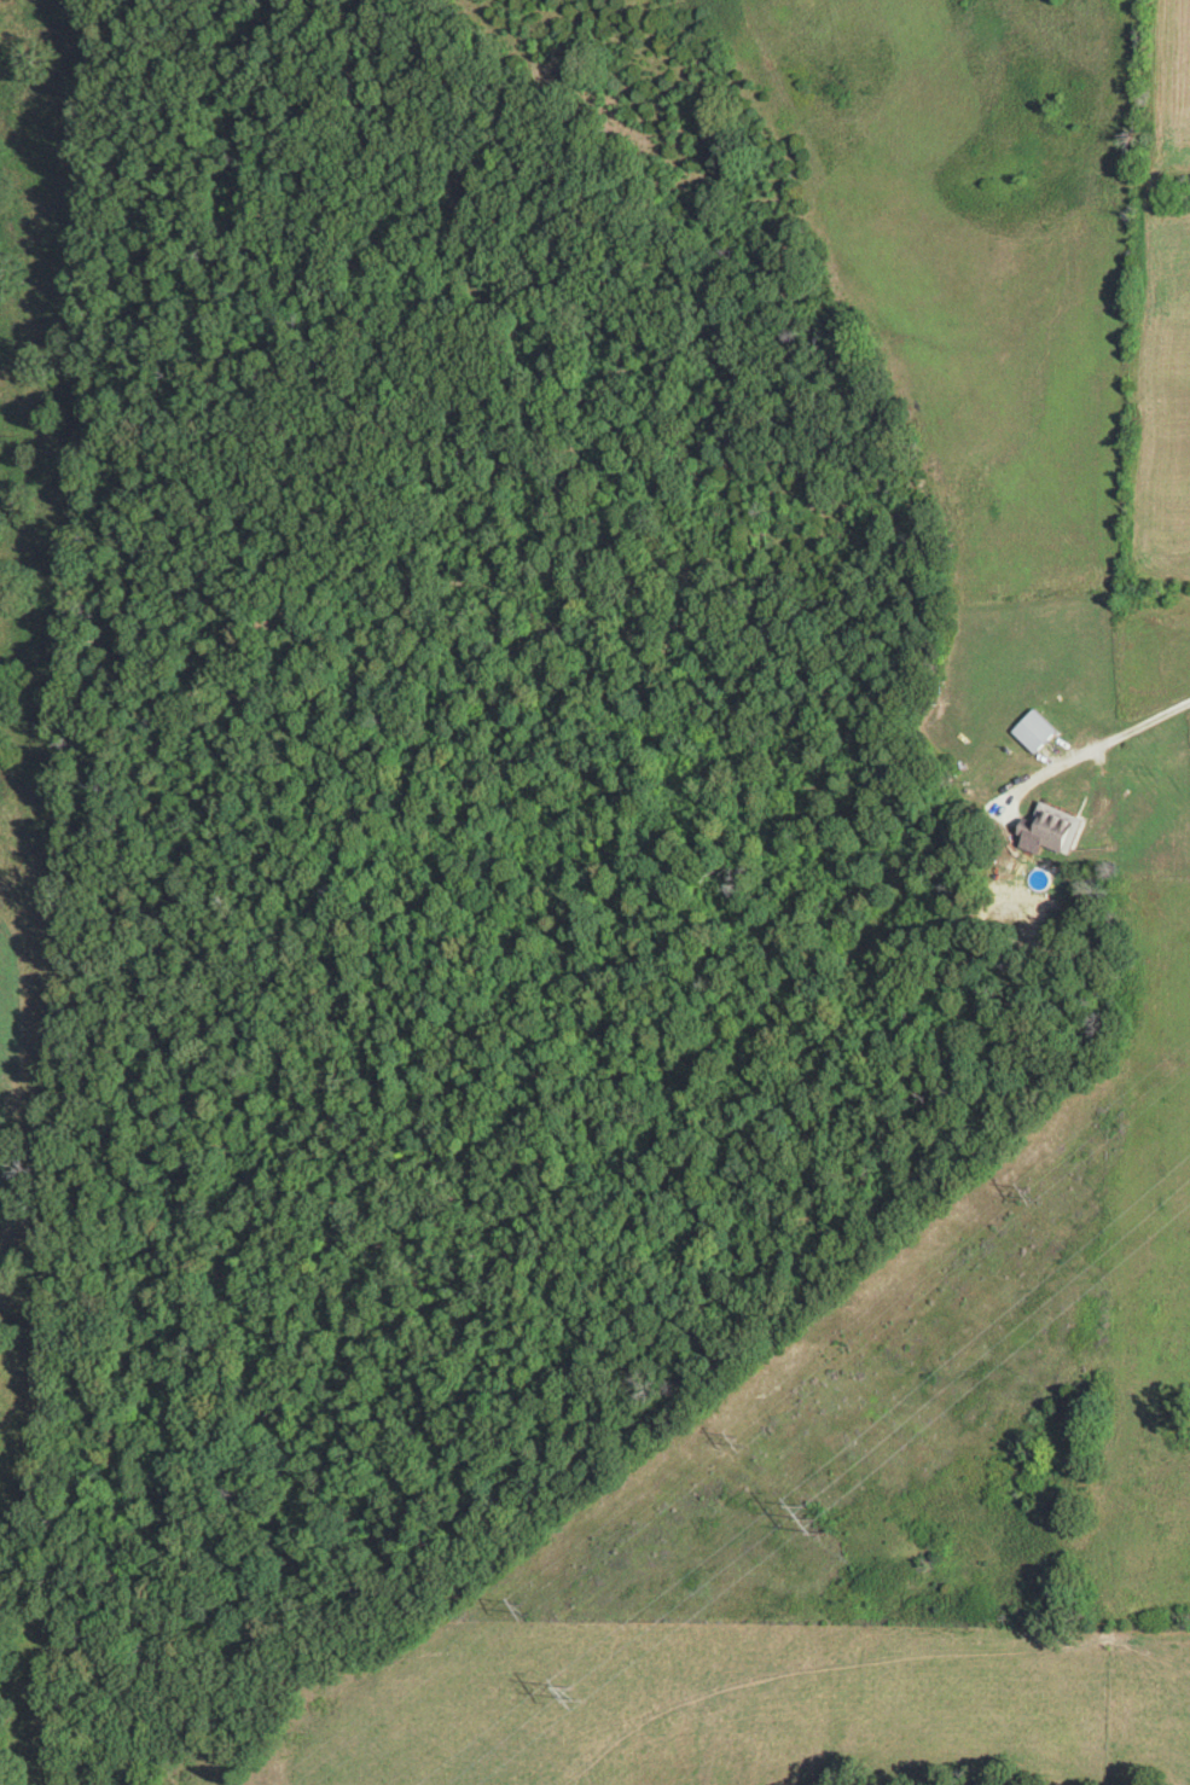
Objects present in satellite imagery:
building: (1035, 731)
road: (1103, 745)
building: (1051, 828)
power tower: (813, 1521)
power tower: (587, 1694)

